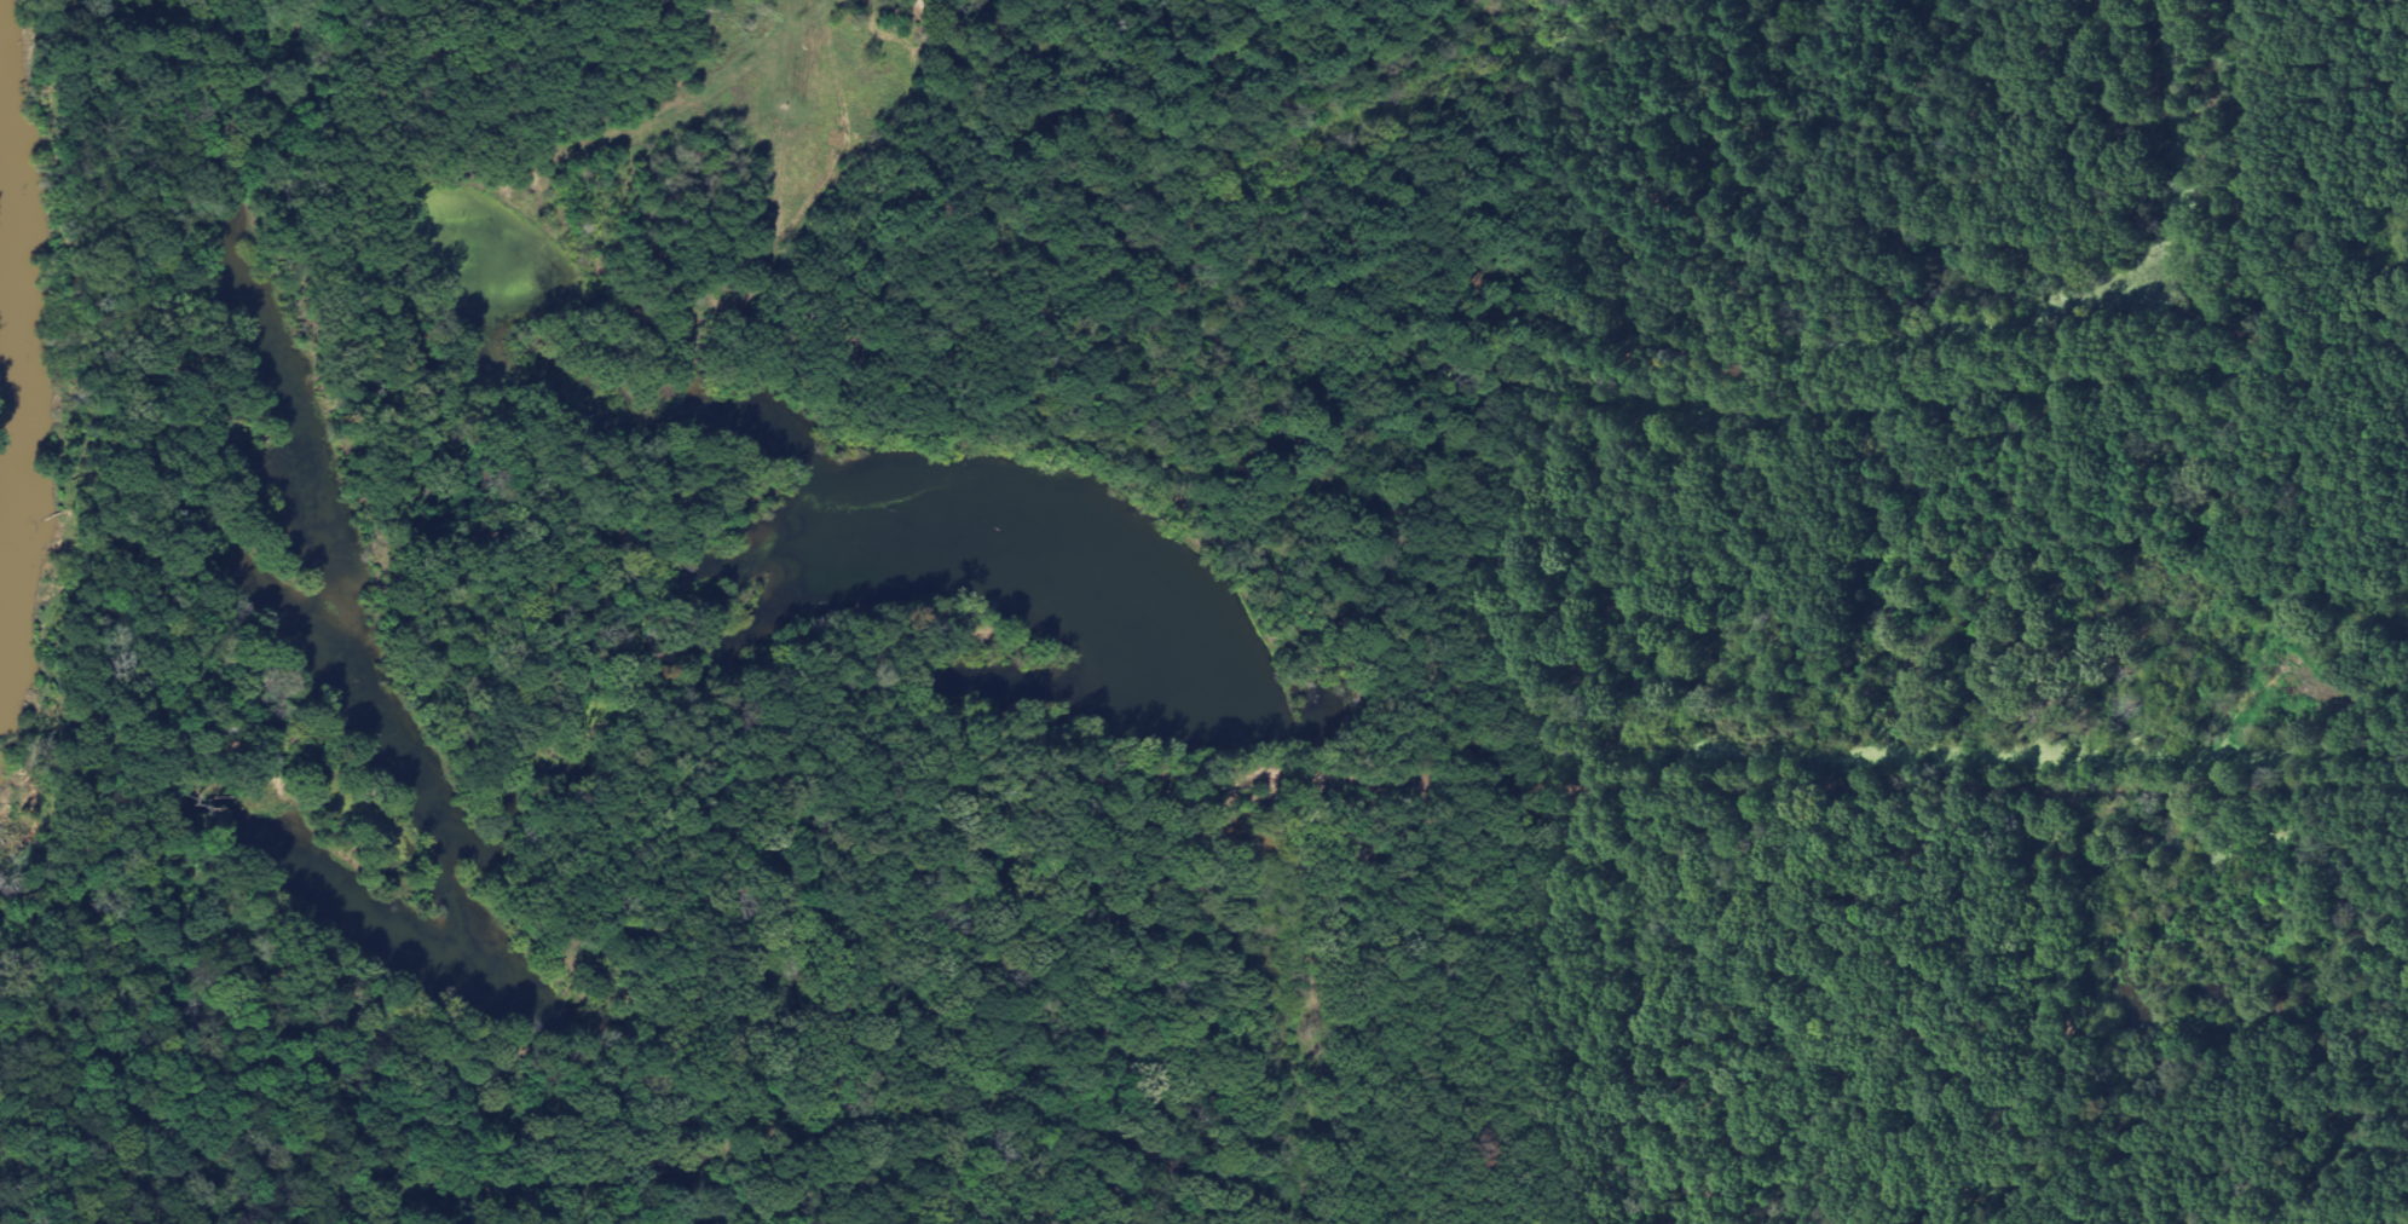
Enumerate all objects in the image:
road: (1001, 167)
river: (29, 358)
road: (1671, 360)
road: (119, 386)
road: (1530, 789)
road: (1079, 912)
road: (2058, 930)
road: (1419, 1004)
road: (450, 1035)

